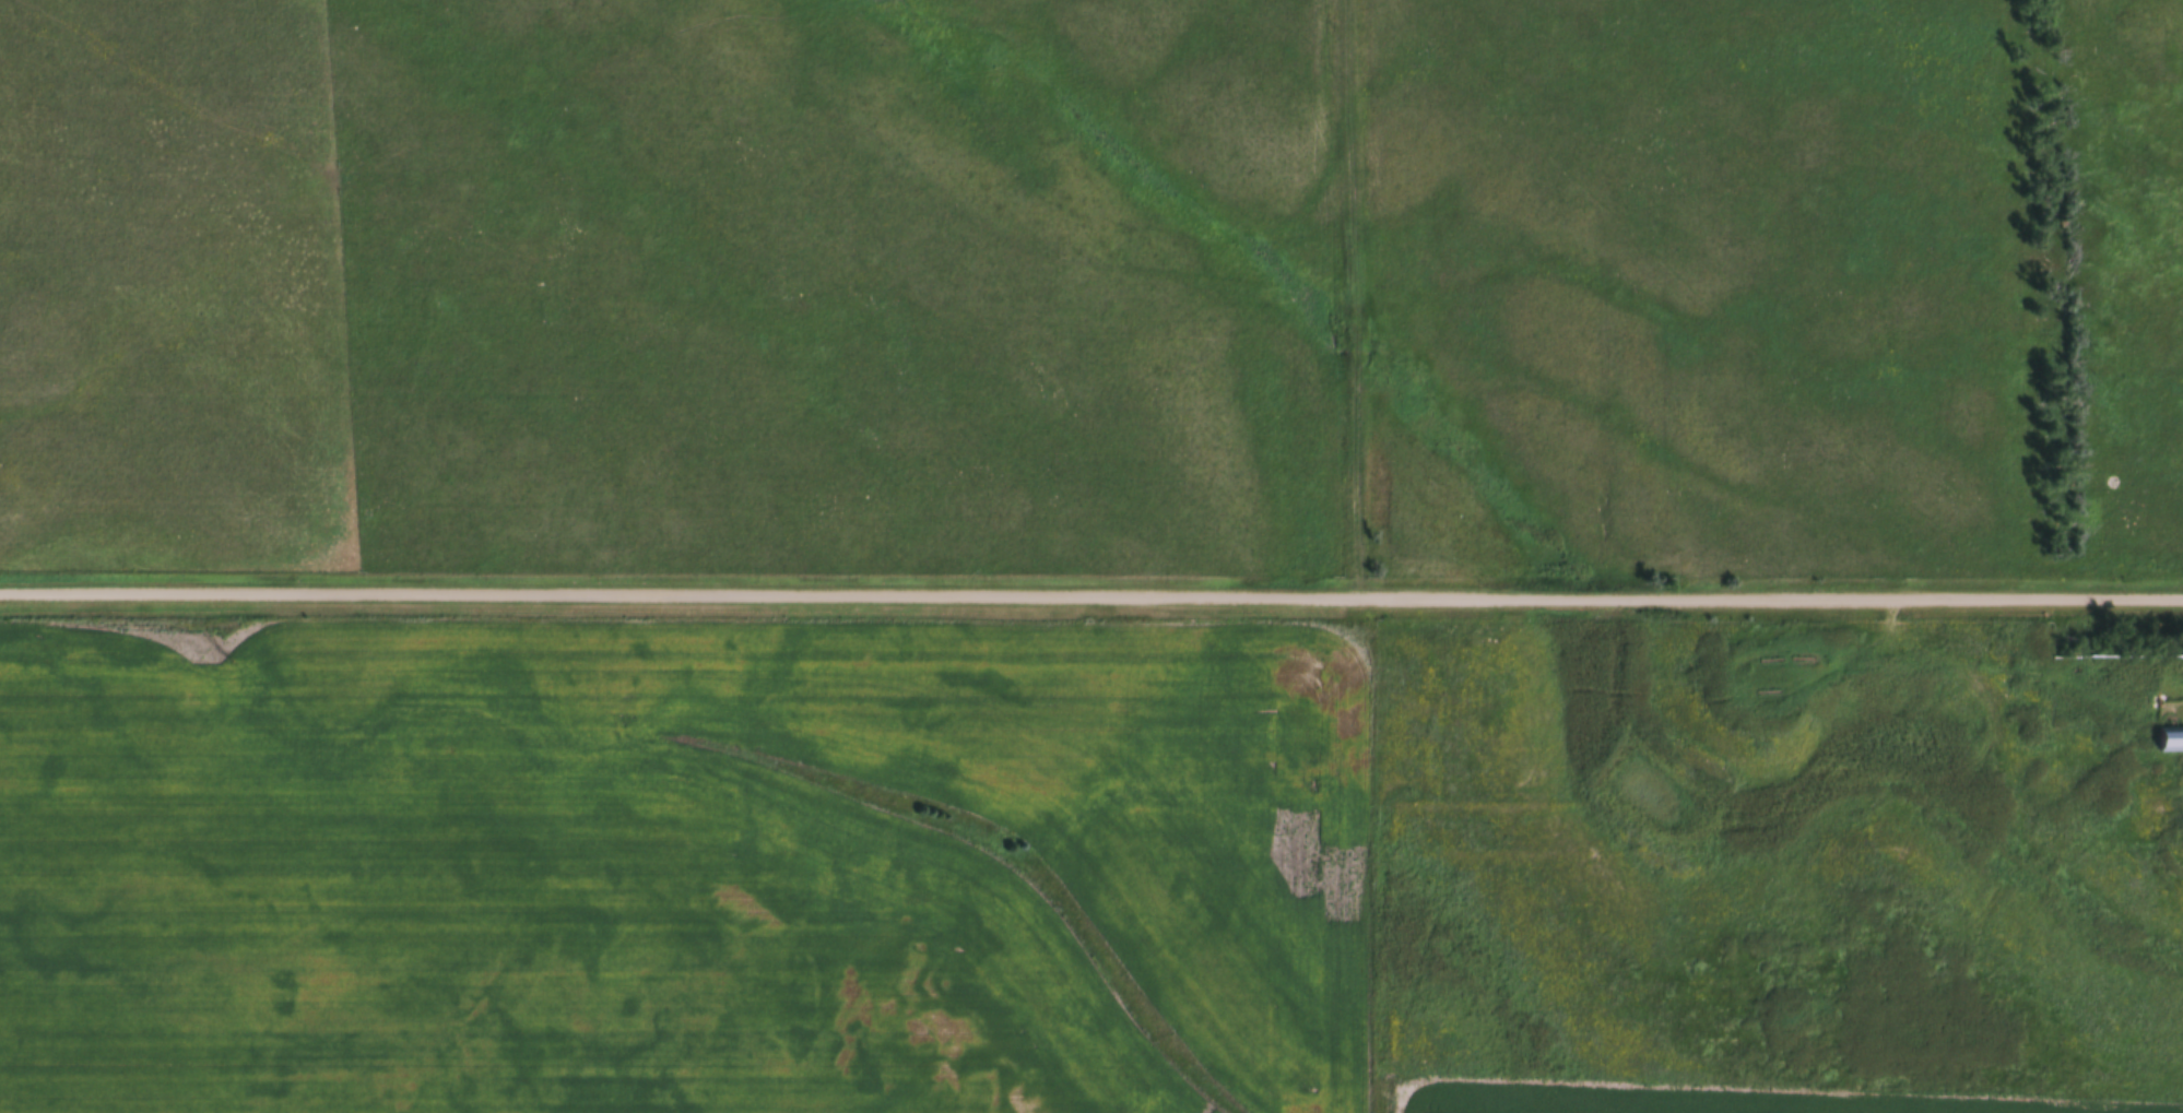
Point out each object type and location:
road: (1091, 600)
building: (2170, 738)
building: (1899, 742)

